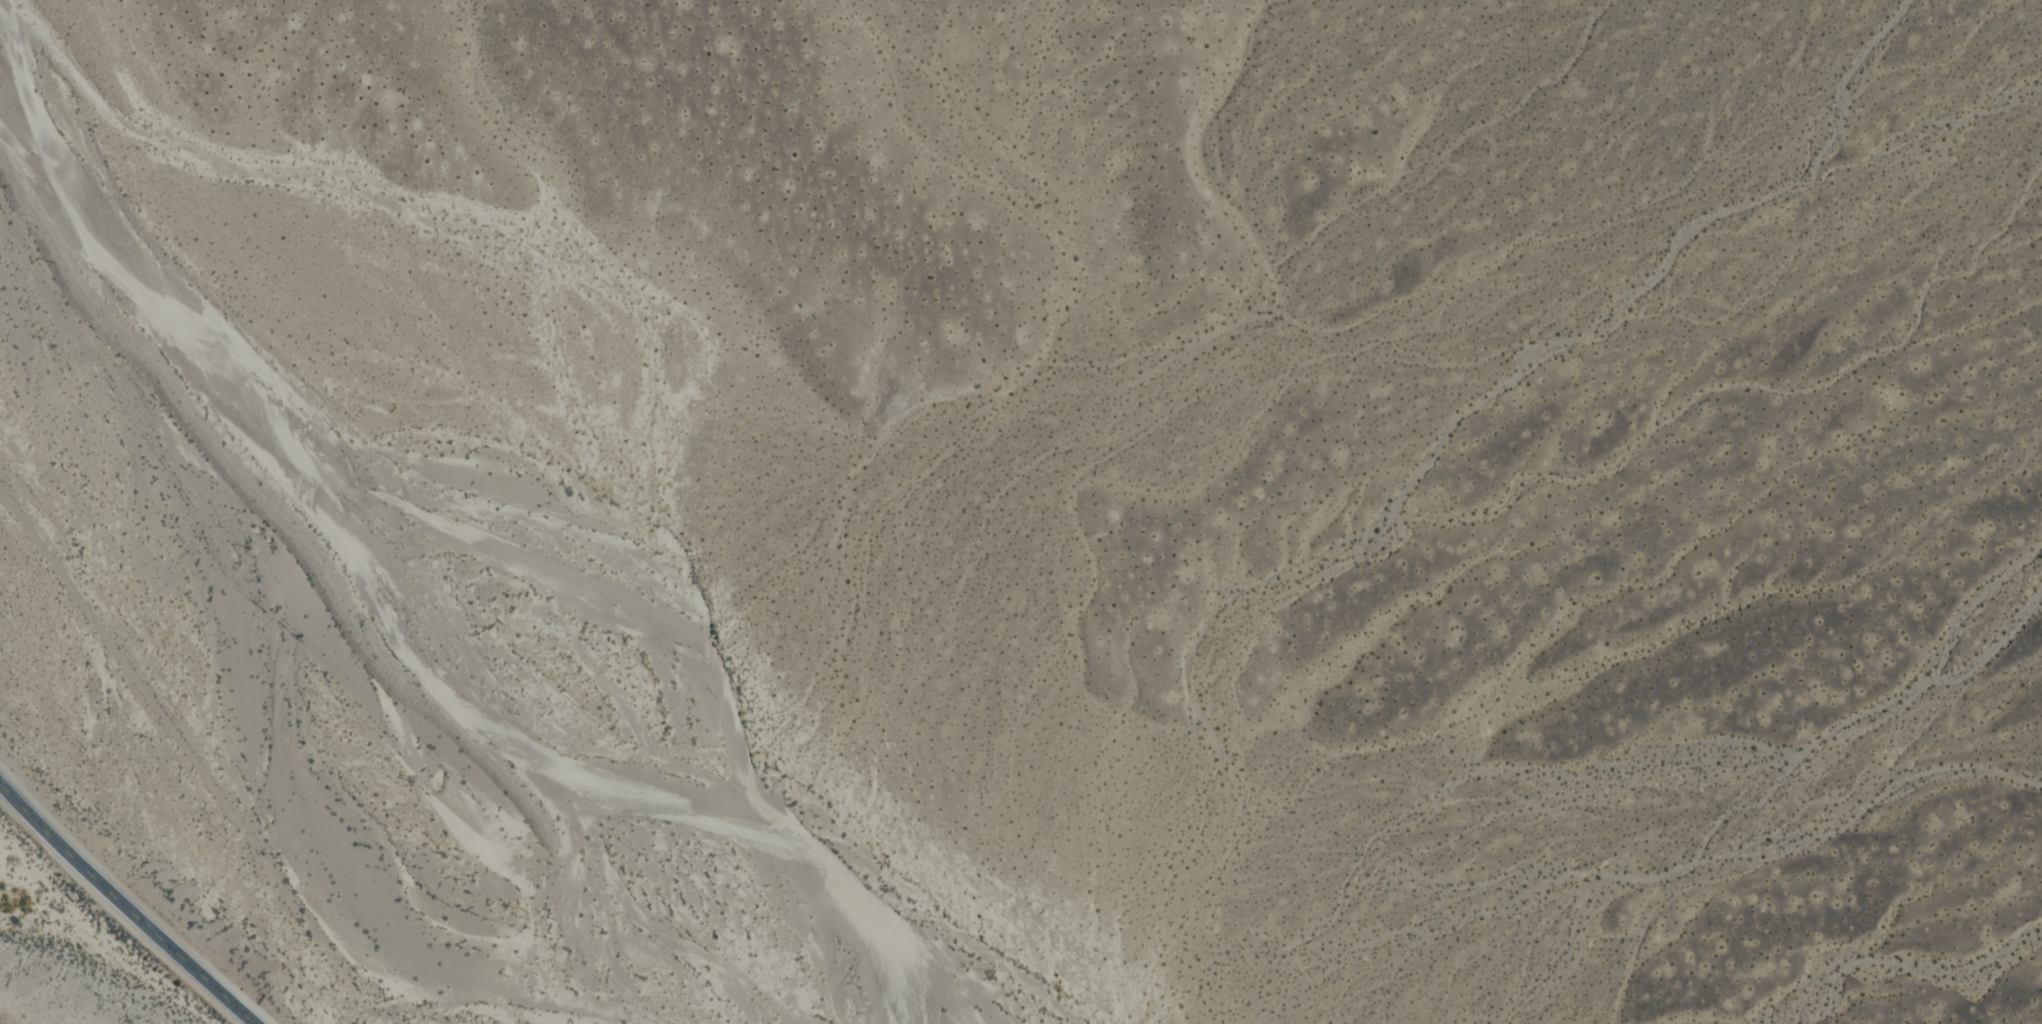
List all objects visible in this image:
river: (274, 596)
road: (128, 901)

